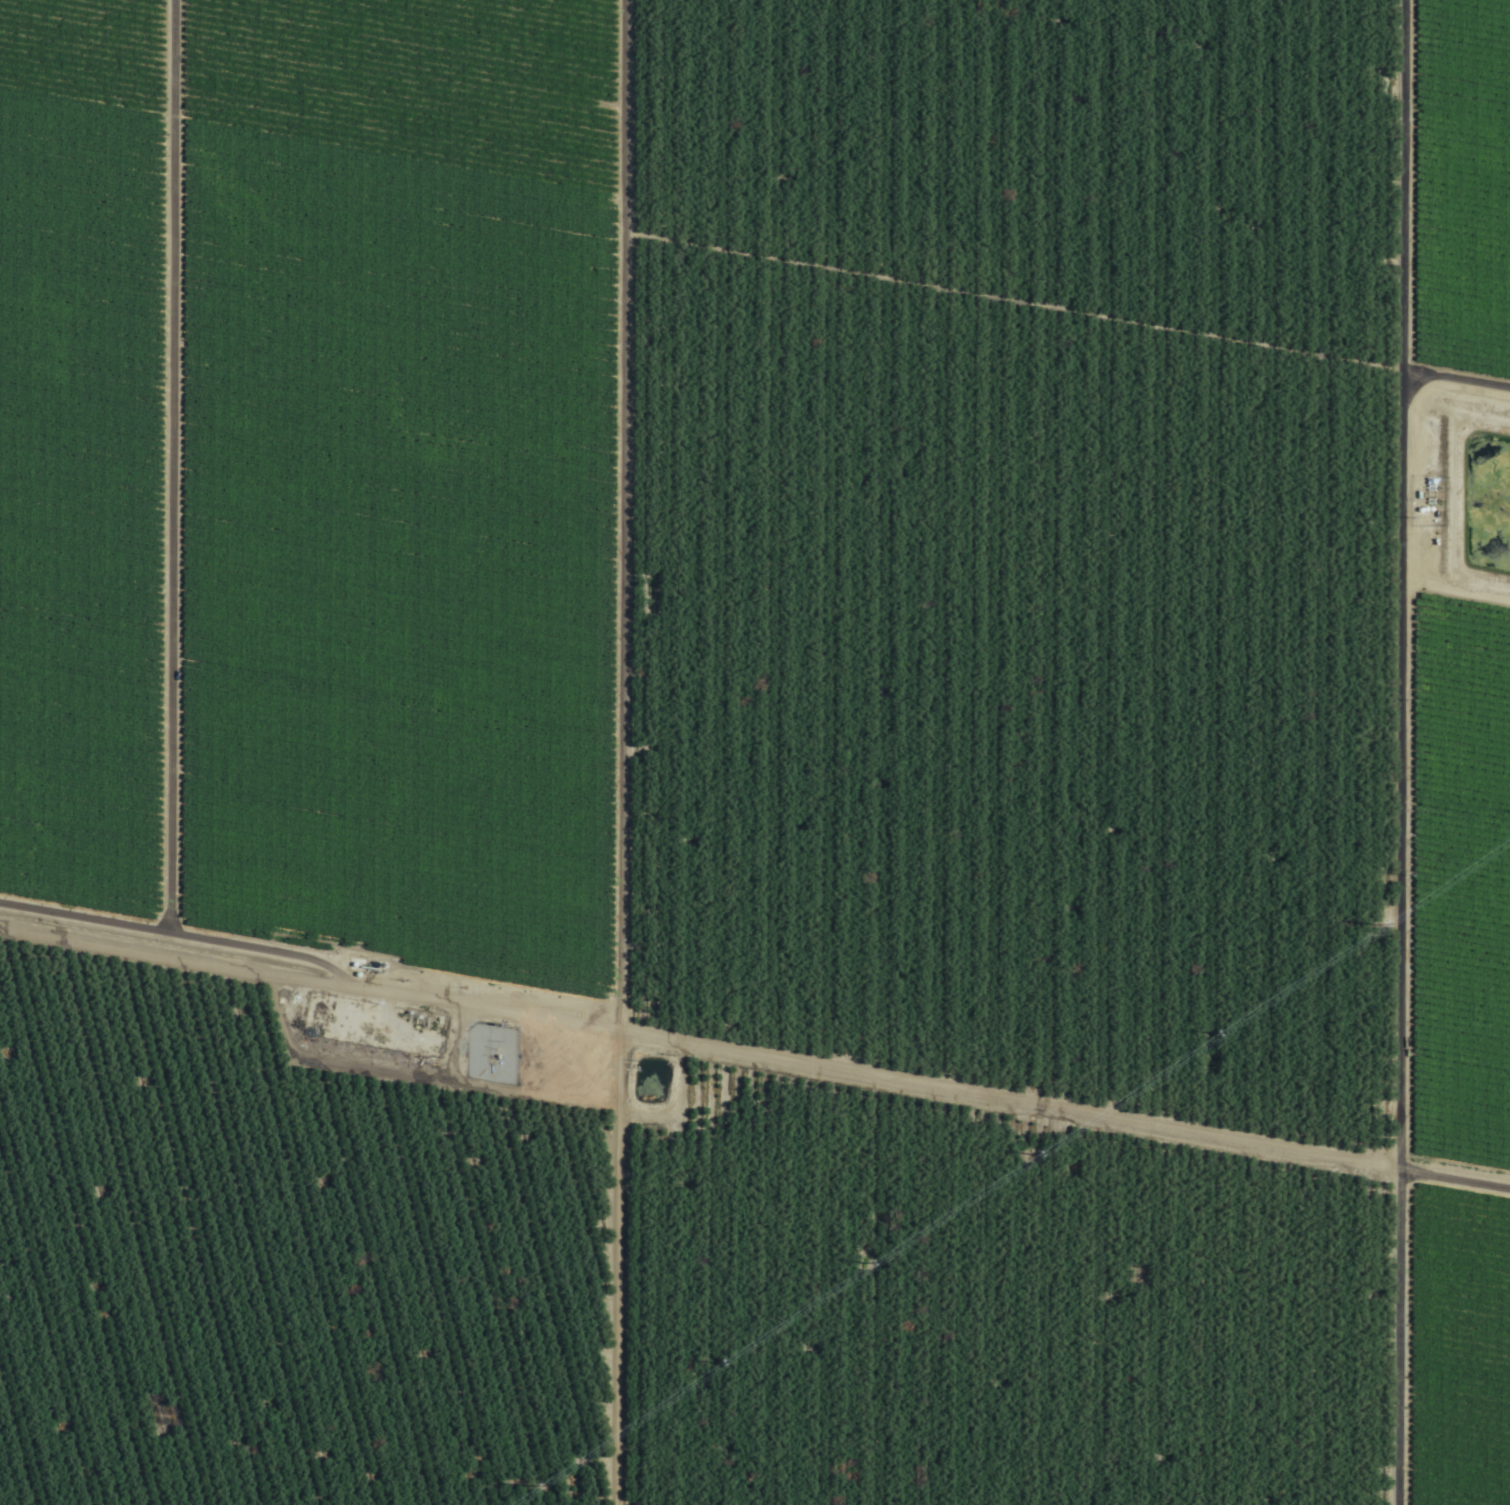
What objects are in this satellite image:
road: (622, 518)
crop: (755, 752)
road: (758, 1066)
wastewater plant: (714, 1111)
road: (1325, 1349)

